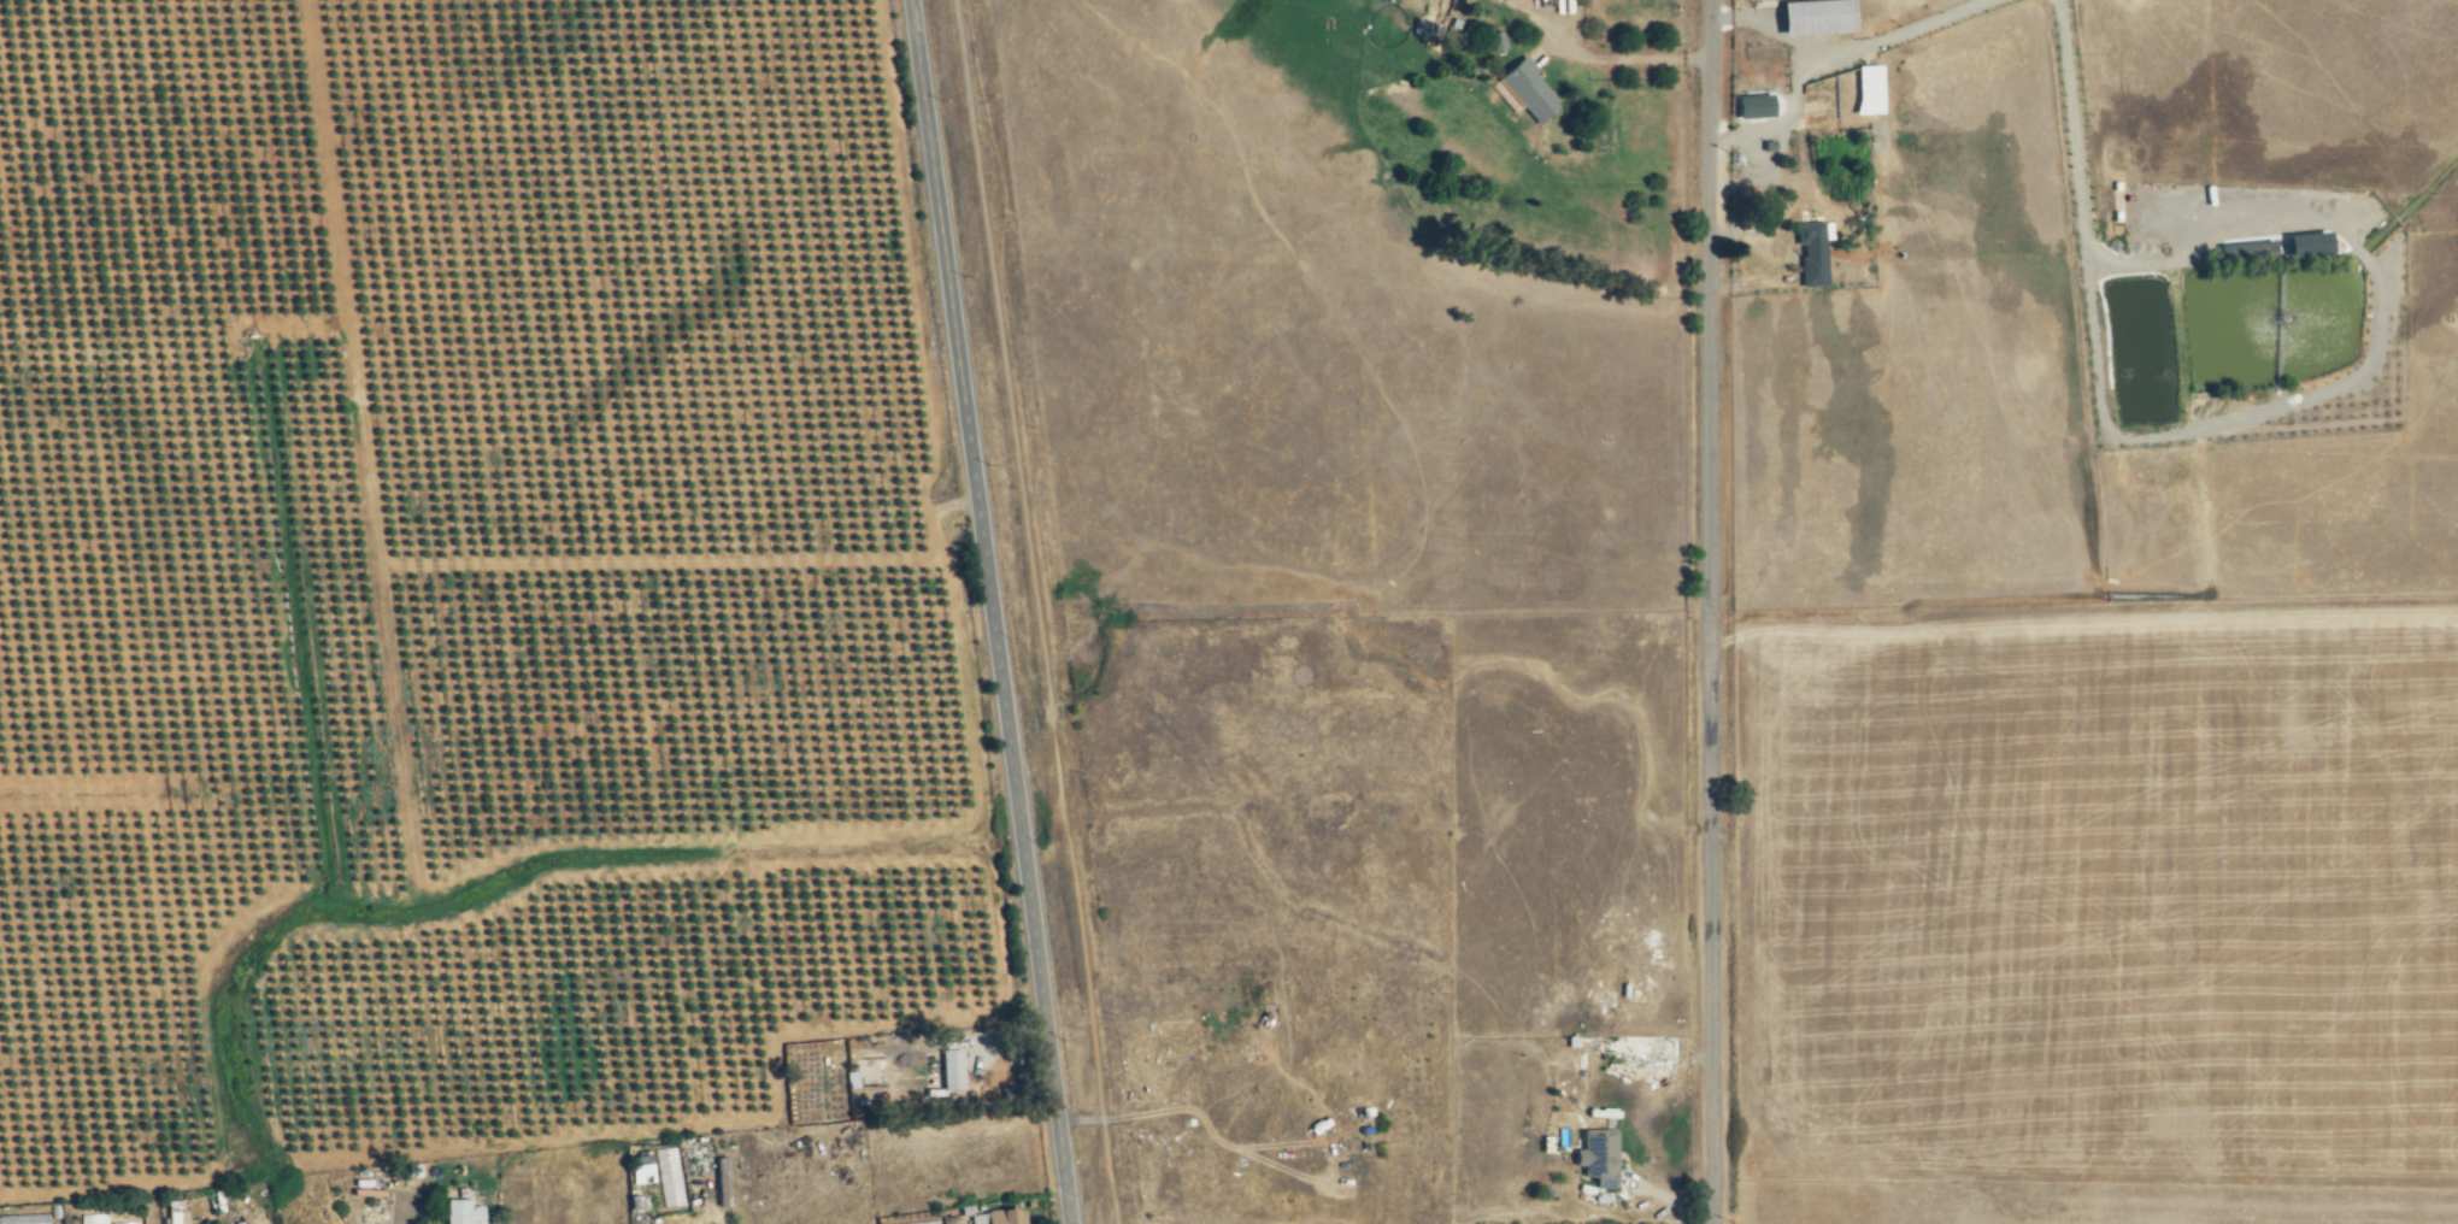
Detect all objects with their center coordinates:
building: (1531, 93)
building: (1817, 113)
building: (1813, 254)
road: (1707, 611)
road: (988, 612)
building: (953, 1070)
building: (872, 1073)
building: (1600, 1155)
building: (723, 1177)
building: (463, 1212)
building: (1000, 1217)
building: (177, 1218)
building: (1, 1219)
building: (35, 1219)

